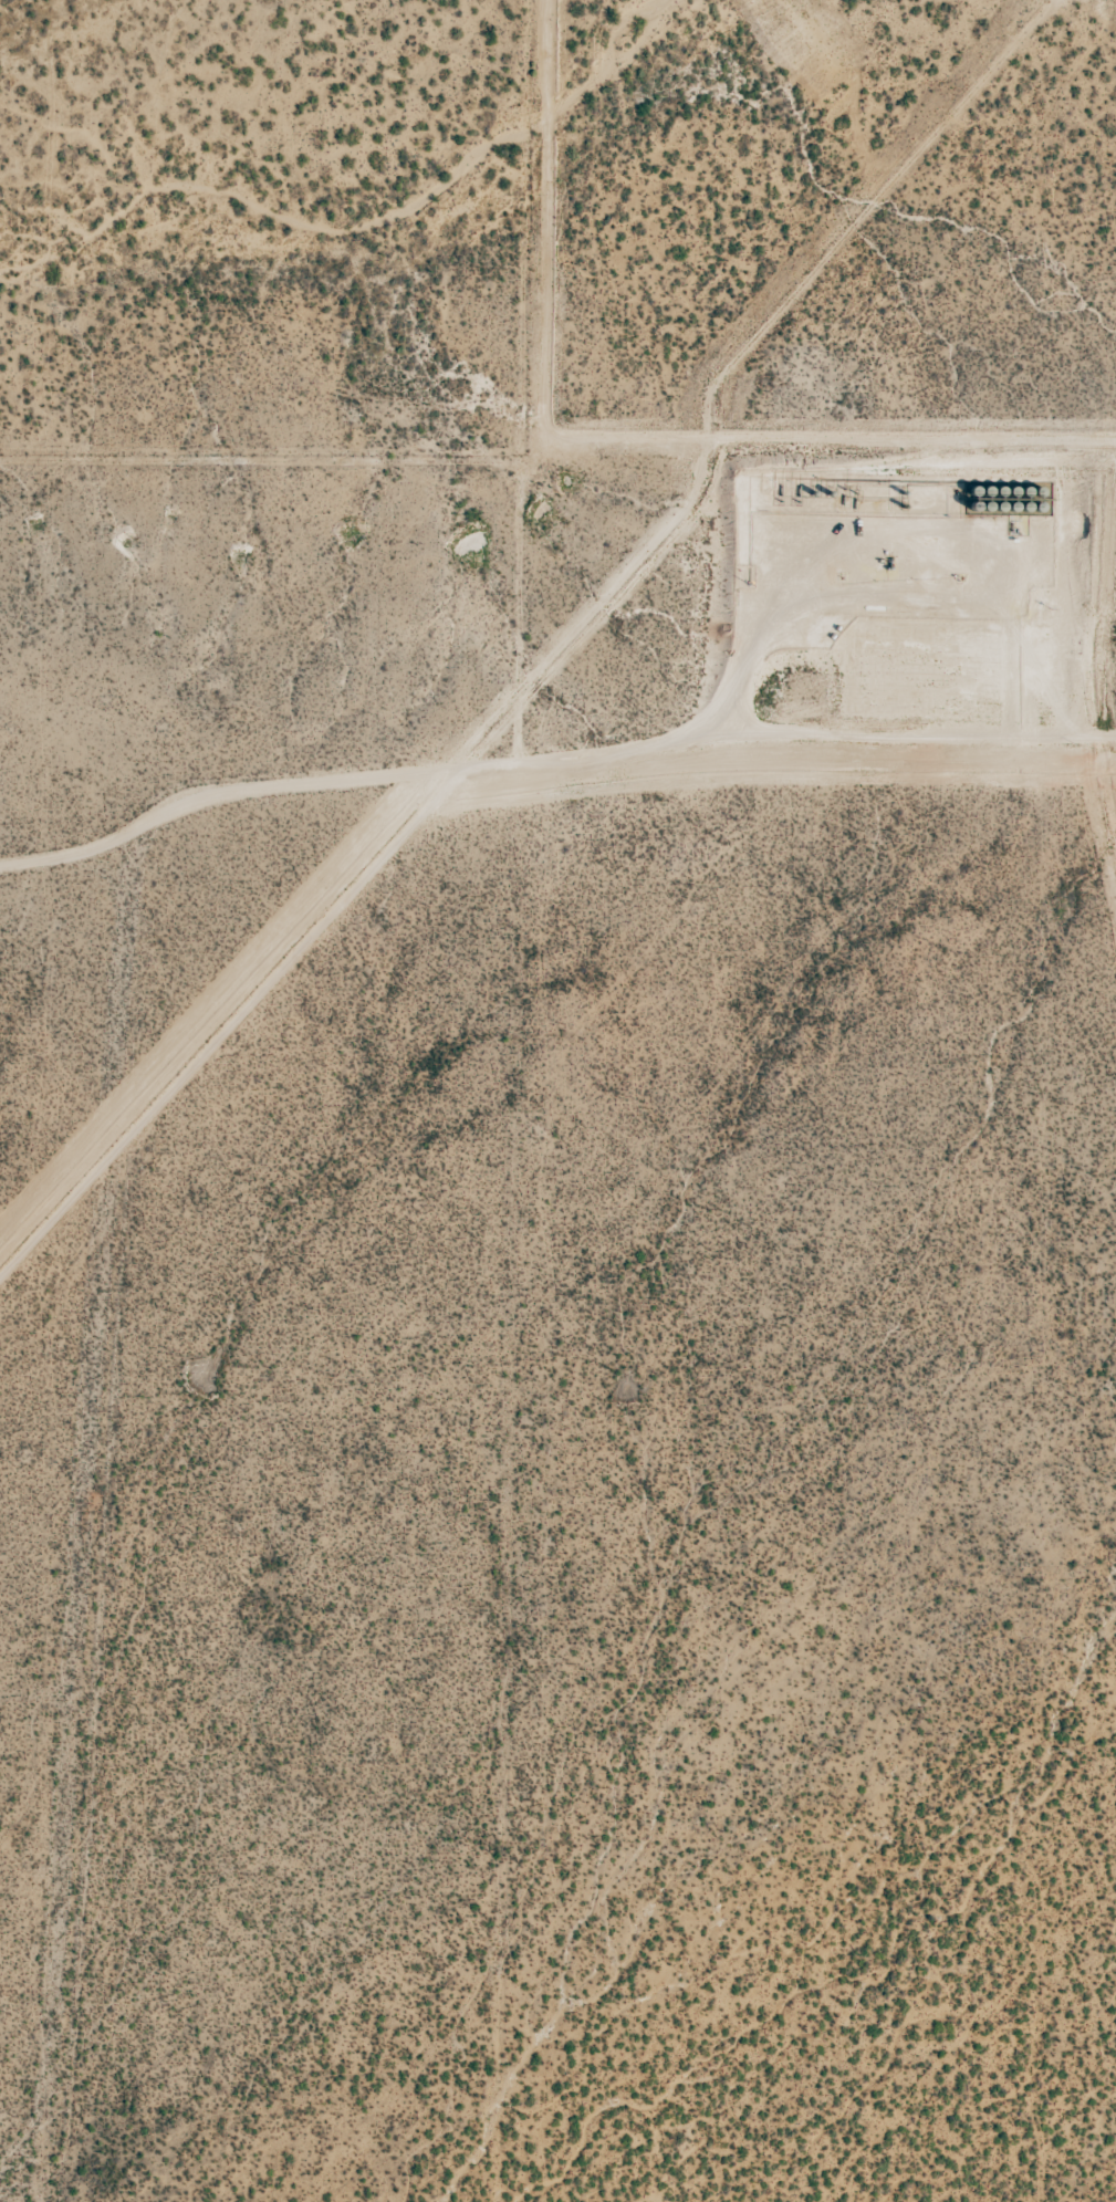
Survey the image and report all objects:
road: (611, 733)
road: (66, 870)

